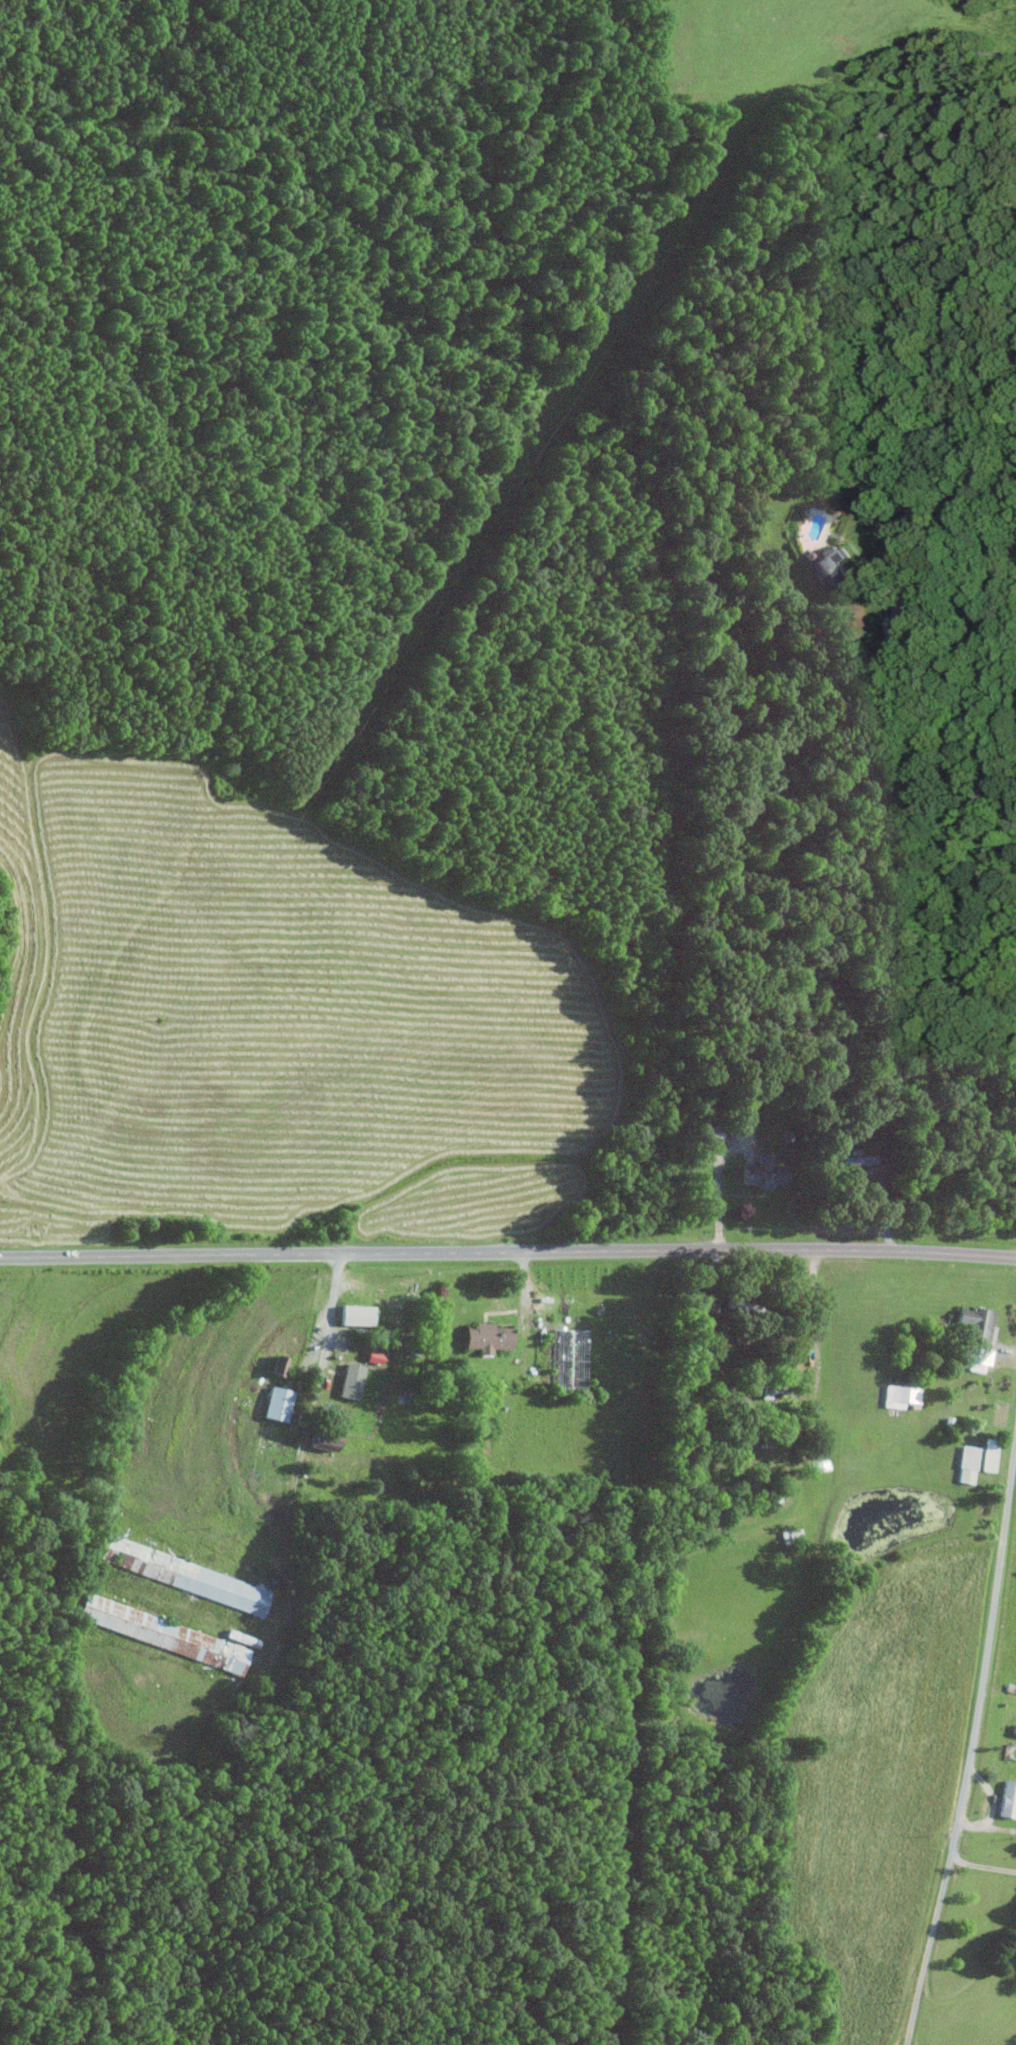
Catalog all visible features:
road: (876, 566)
road: (924, 598)
building: (858, 1159)
building: (763, 1172)
road: (717, 1179)
road: (508, 1249)
road: (330, 1313)
building: (355, 1314)
building: (977, 1322)
building: (486, 1336)
building: (373, 1356)
building: (980, 1358)
building: (277, 1364)
building: (350, 1380)
building: (900, 1395)
building: (276, 1403)
building: (320, 1439)
building: (989, 1454)
building: (968, 1463)
road: (785, 1467)
building: (193, 1577)
building: (162, 1632)
road: (973, 1746)
building: (1008, 1799)
road: (983, 1864)

